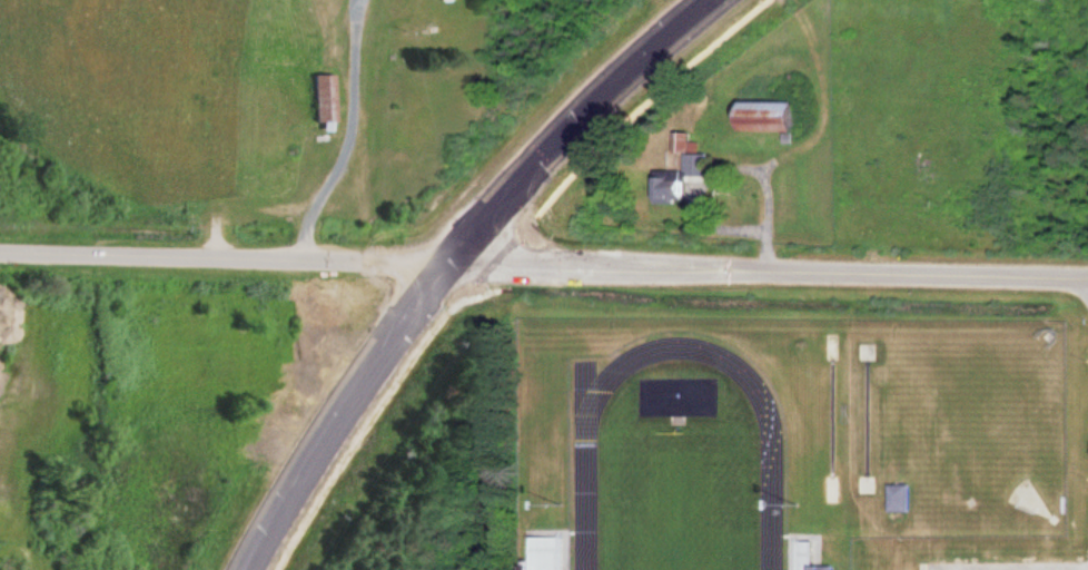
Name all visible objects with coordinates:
building: (325, 97)
building: (777, 116)
road: (571, 124)
building: (685, 179)
road: (221, 258)
road: (765, 268)
road: (333, 411)
park: (680, 497)
building: (902, 497)
track: (773, 504)
building: (550, 552)
building: (830, 567)
building: (808, 569)

